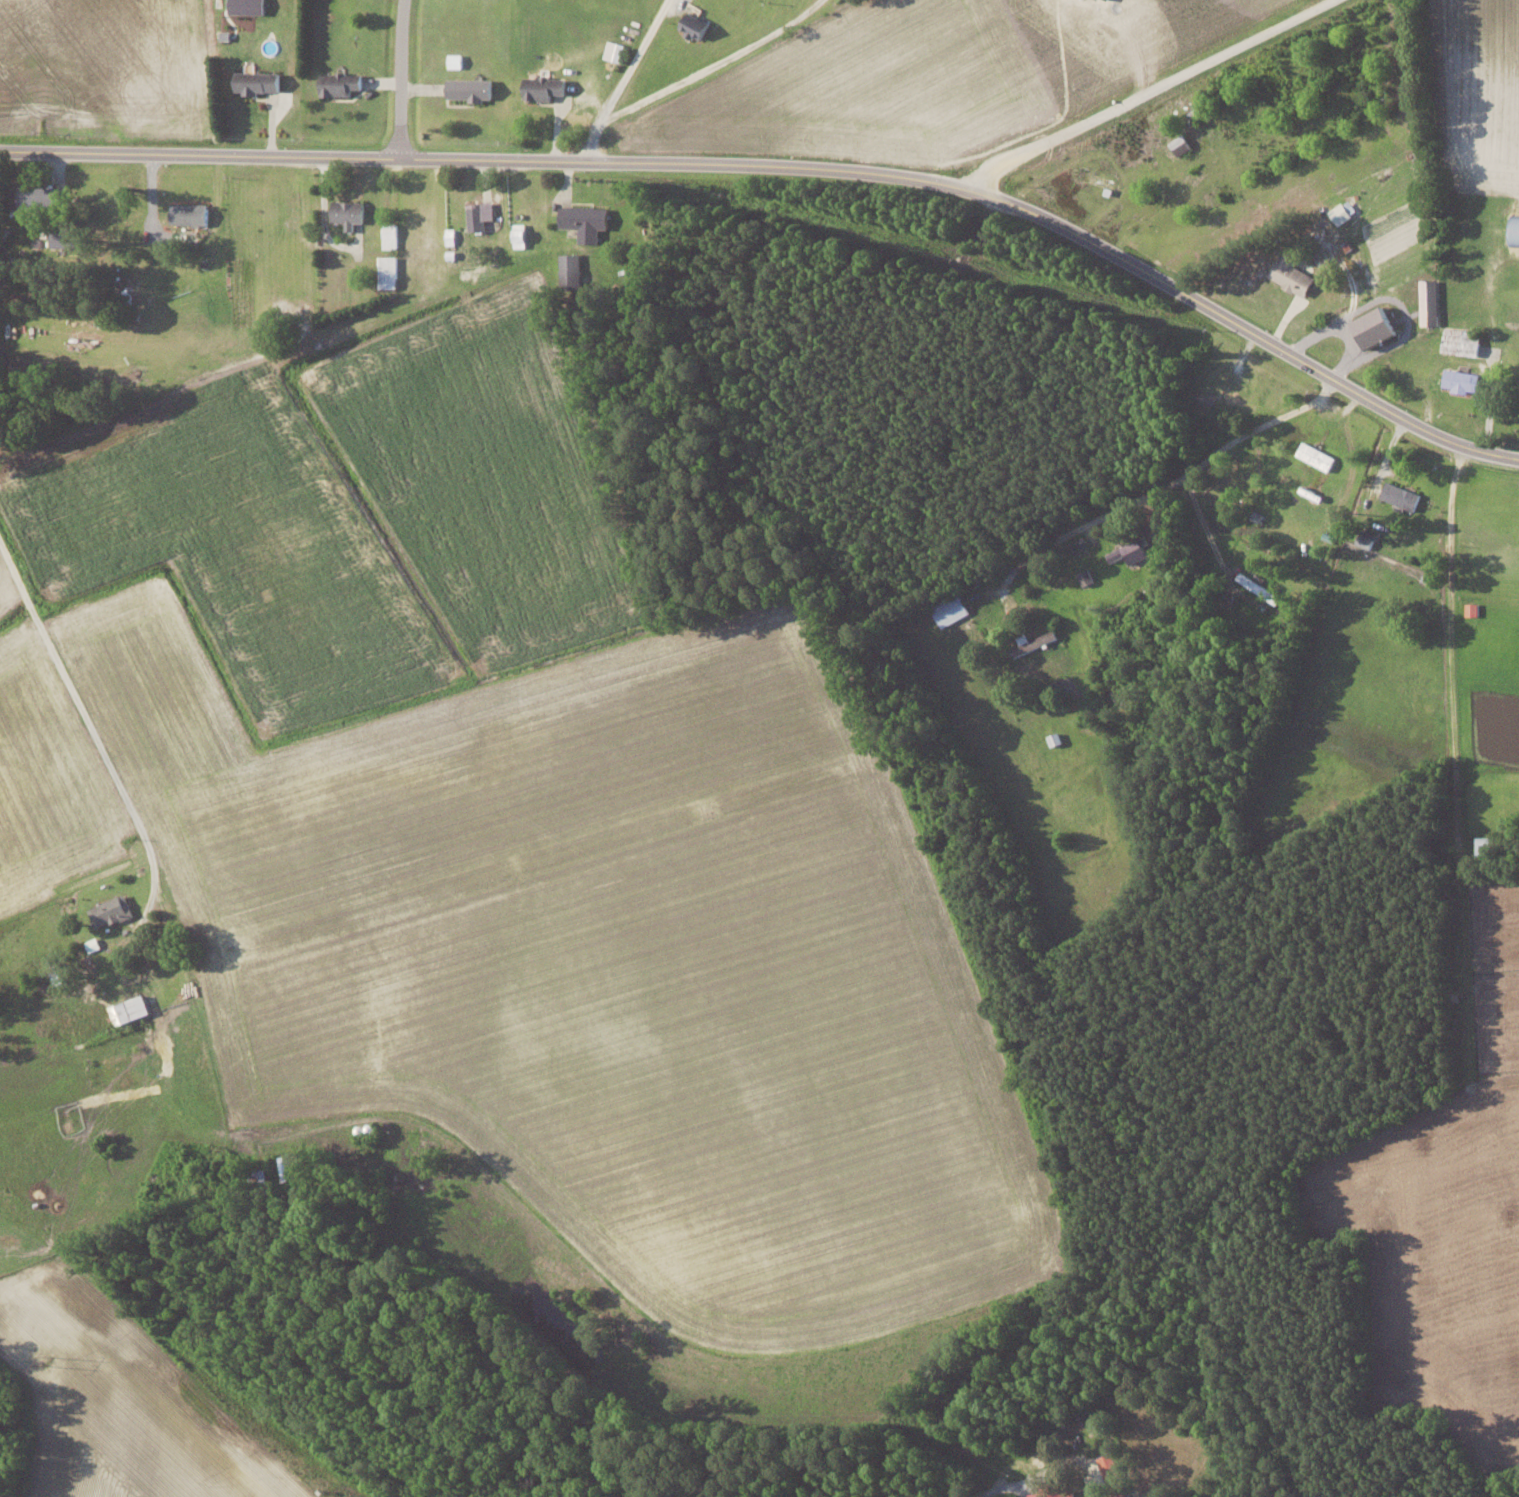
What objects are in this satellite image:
building: (247, 6)
building: (694, 26)
road: (714, 63)
road: (400, 77)
road: (623, 79)
building: (257, 82)
building: (339, 83)
building: (543, 88)
building: (469, 89)
road: (1150, 90)
building: (1180, 144)
road: (795, 164)
building: (36, 197)
building: (348, 212)
building: (1340, 213)
building: (189, 214)
building: (479, 215)
building: (585, 221)
building: (1514, 231)
building: (389, 235)
building: (519, 235)
building: (60, 238)
building: (570, 271)
building: (388, 272)
building: (1291, 274)
building: (1429, 302)
building: (1375, 327)
building: (1462, 342)
building: (1462, 380)
building: (1316, 456)
road: (1171, 479)
building: (1401, 495)
building: (1366, 539)
building: (1130, 551)
building: (1086, 578)
building: (950, 609)
road: (1442, 609)
building: (1472, 609)
road: (102, 728)
building: (110, 911)
building: (129, 1010)
power tower: (48, 1363)
building: (1108, 1465)
road: (1004, 1485)
building: (1053, 1493)

